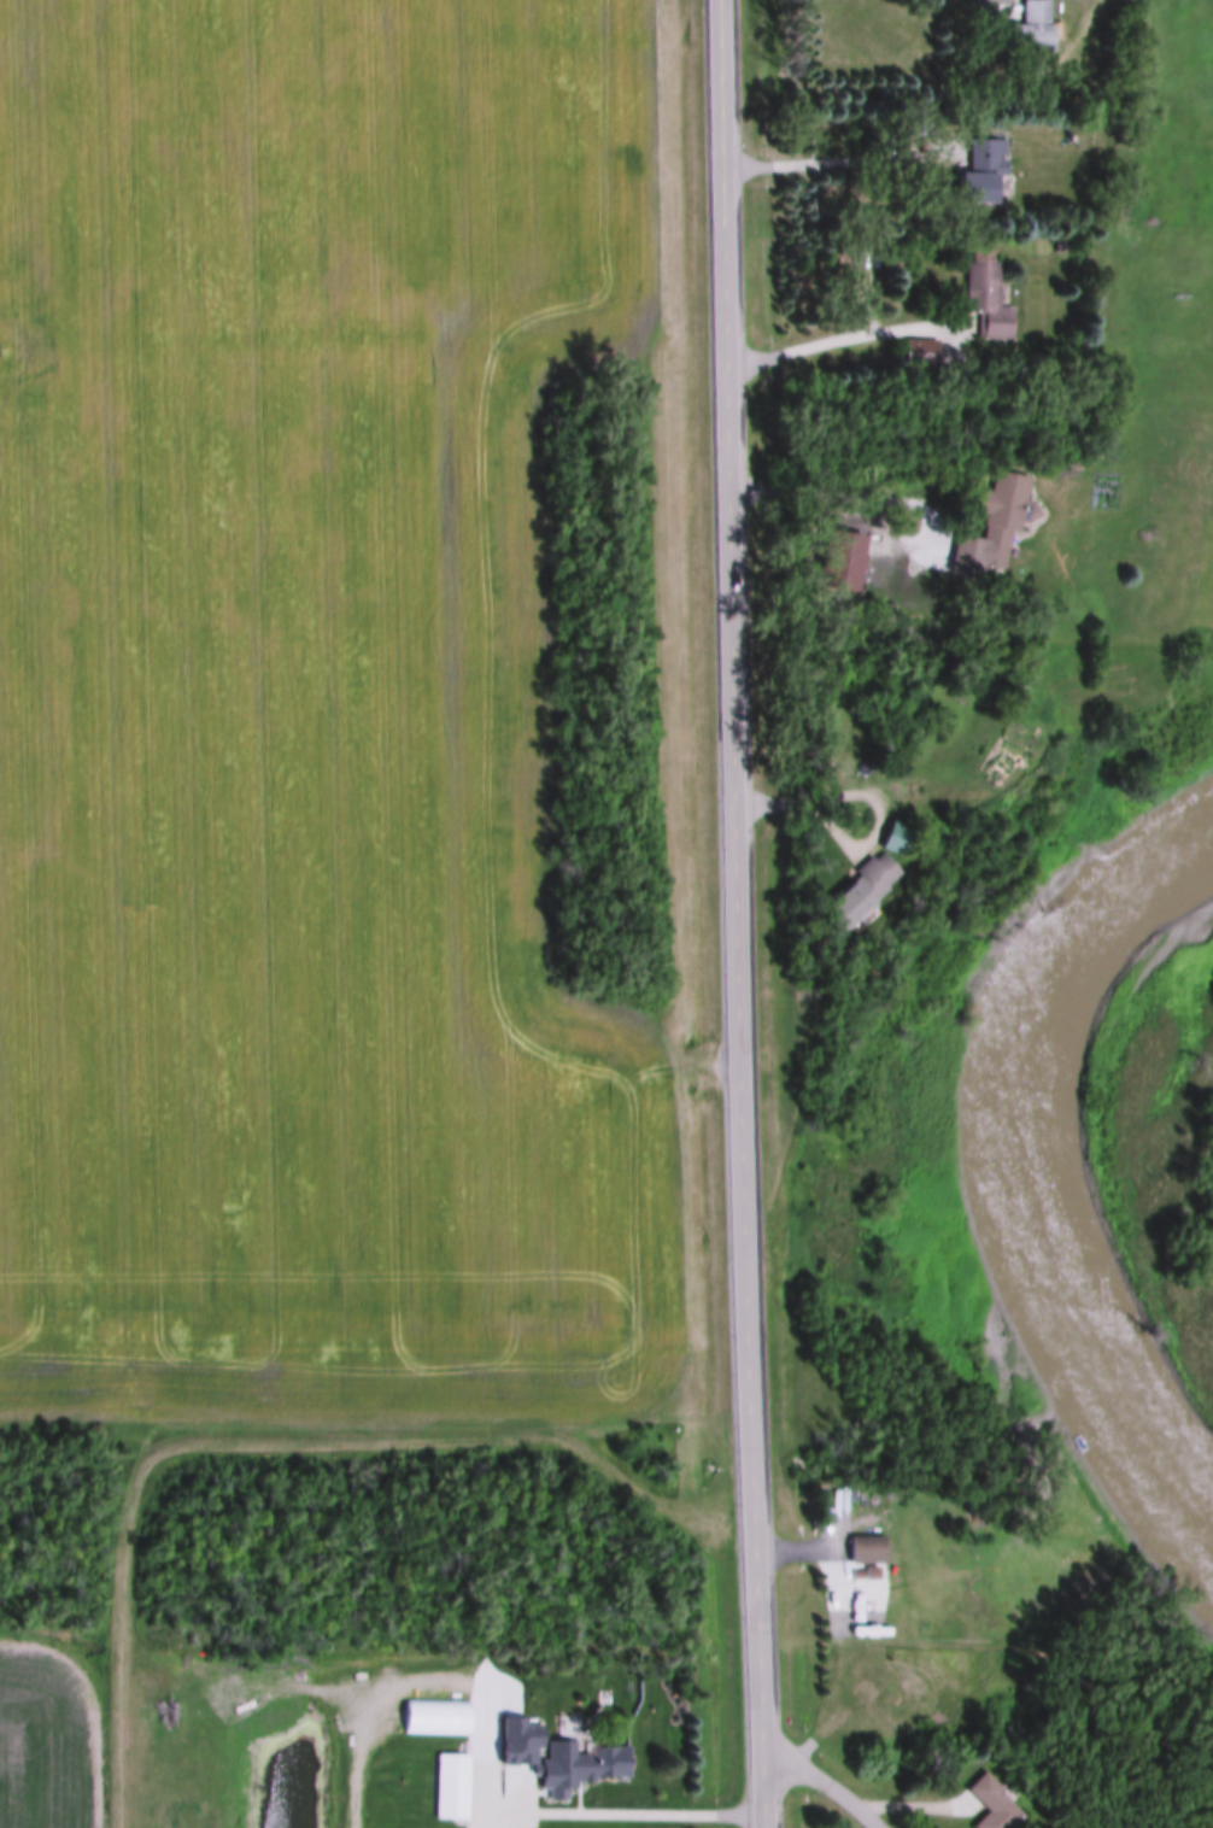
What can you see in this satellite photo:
building: (1030, 28)
road: (839, 163)
building: (979, 170)
building: (1057, 242)
building: (984, 292)
road: (850, 339)
road: (859, 491)
building: (998, 514)
crop: (311, 719)
building: (1008, 750)
building: (832, 763)
road: (819, 797)
building: (895, 838)
building: (855, 892)
road: (740, 914)
river: (1062, 1183)
building: (863, 1546)
building: (873, 1664)
building: (875, 1707)
building: (433, 1715)
building: (520, 1752)
crop: (42, 1756)
building: (580, 1767)
road: (825, 1781)
building: (449, 1785)
building: (990, 1803)
road: (620, 1815)

